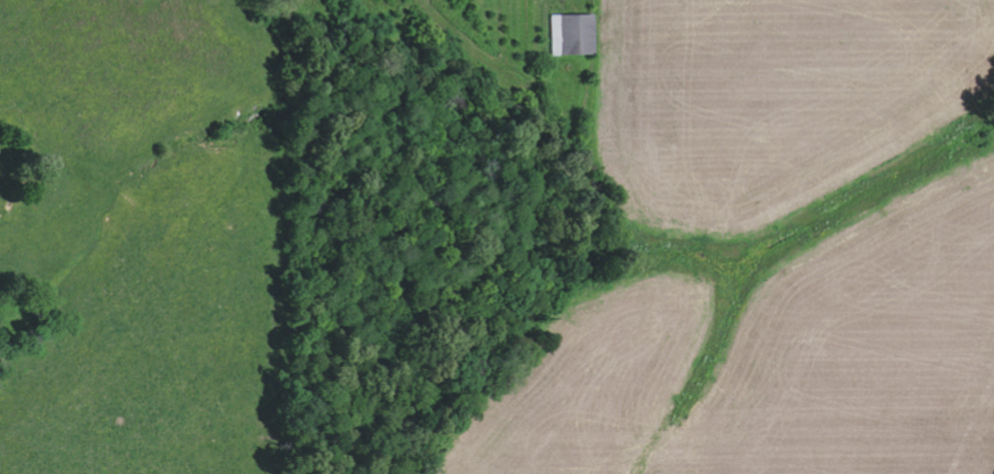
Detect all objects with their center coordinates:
building: (570, 35)

